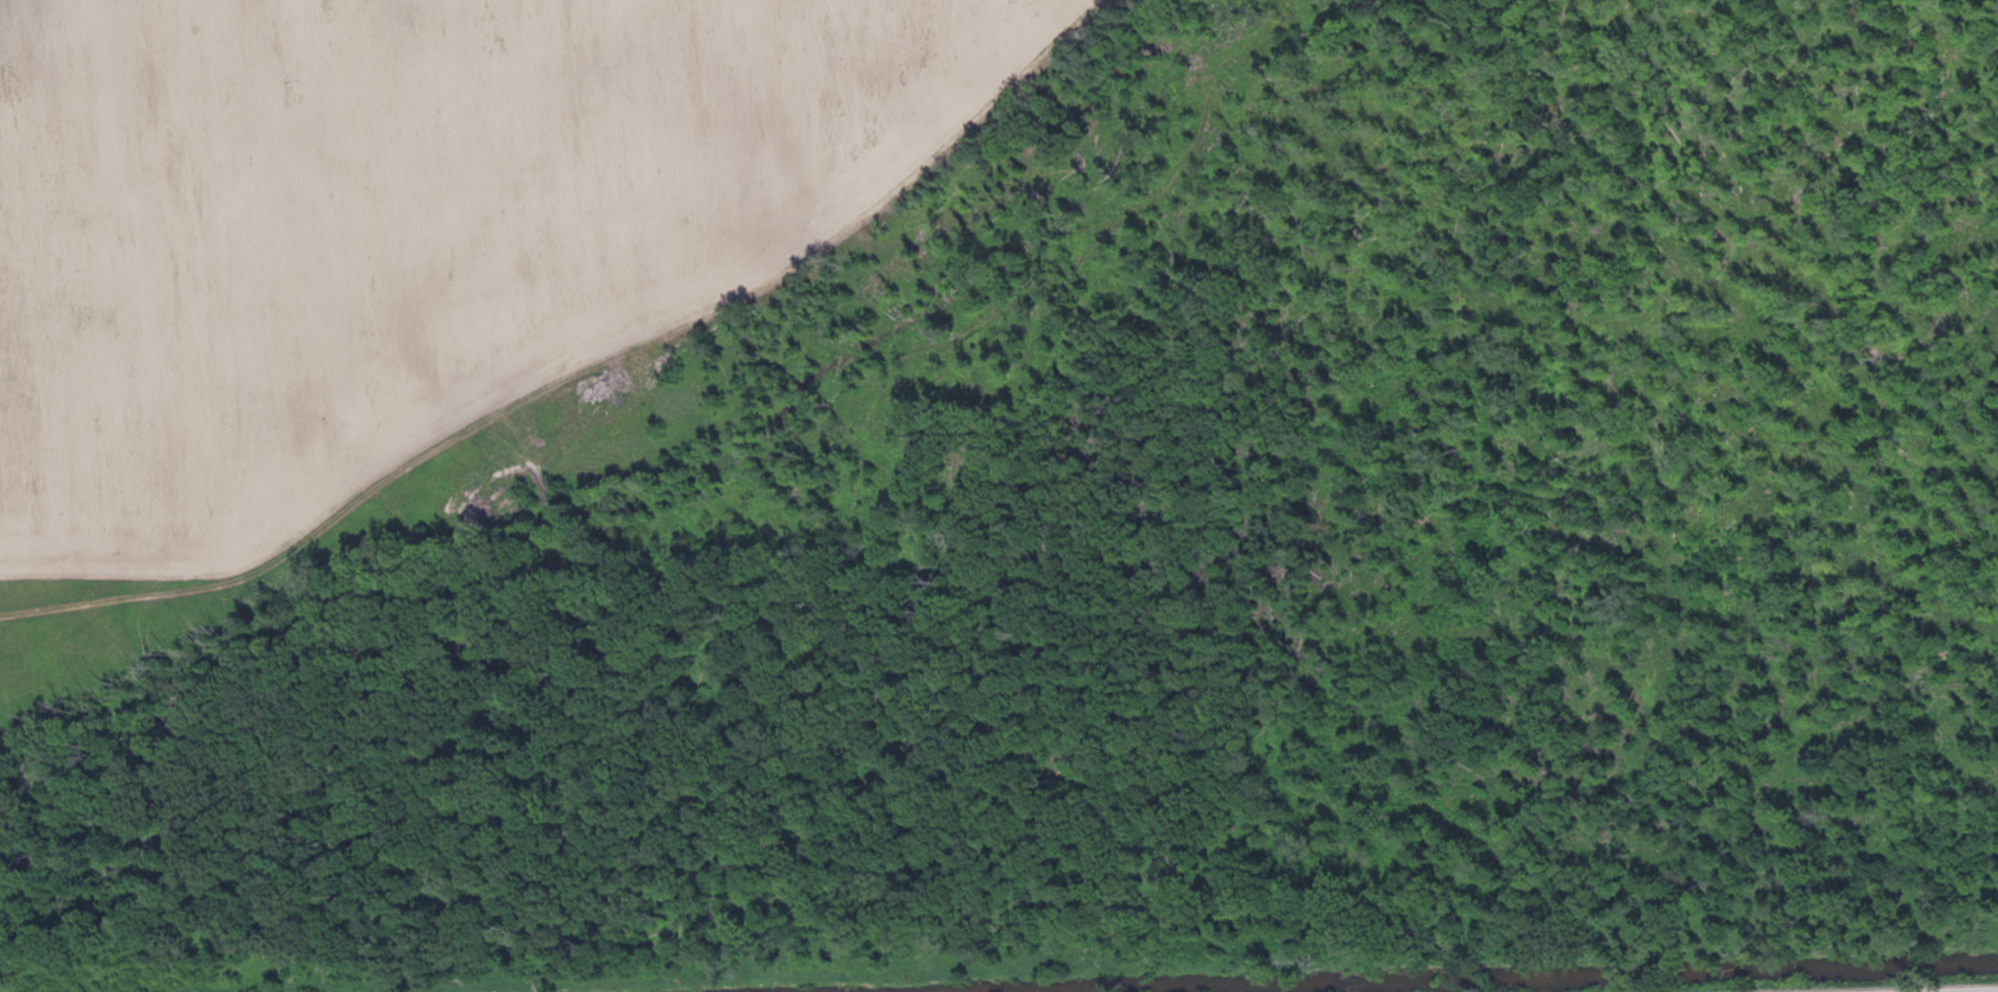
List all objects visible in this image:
river: (1566, 981)

